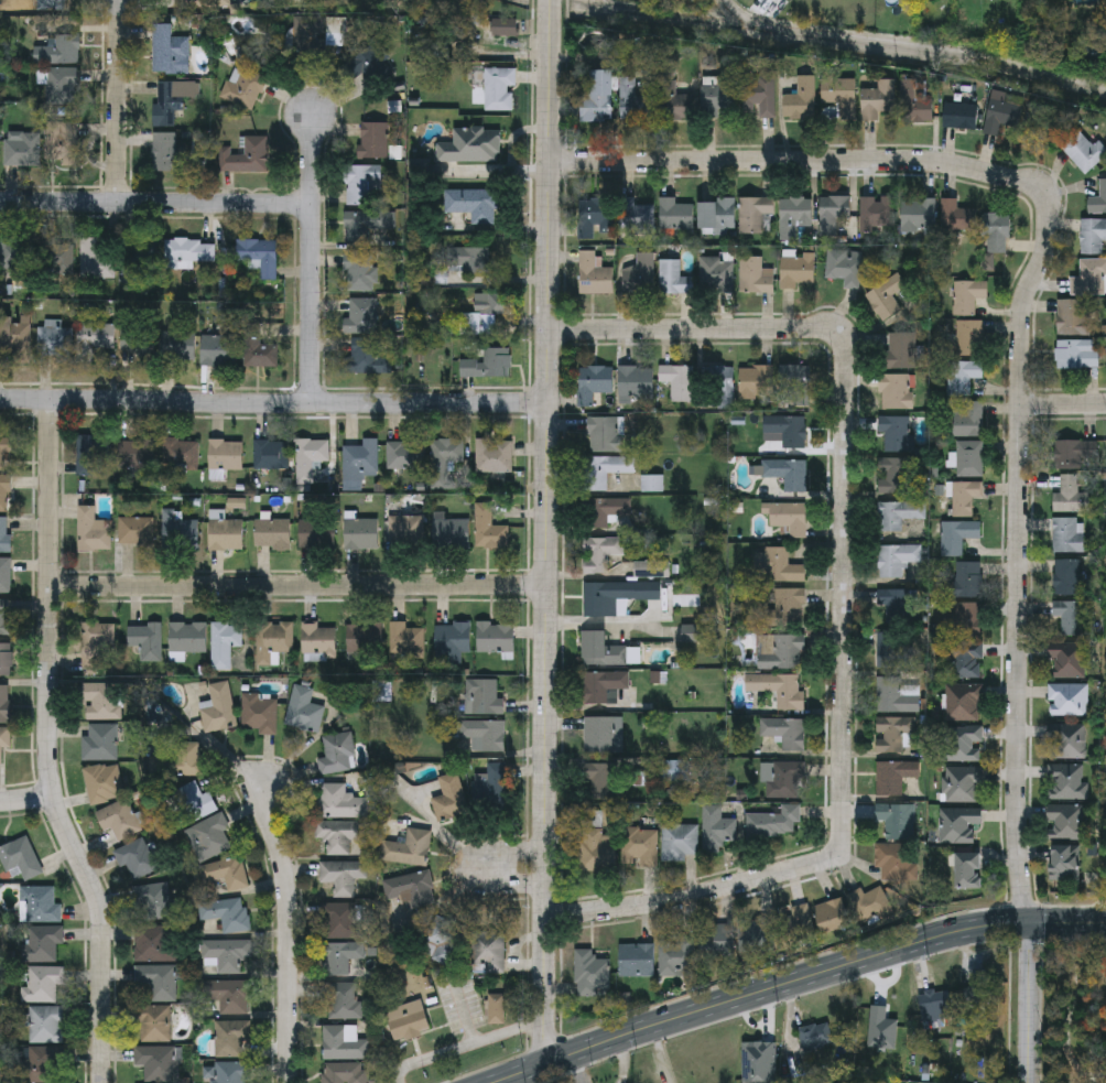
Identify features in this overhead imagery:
building: (198, 4)
building: (52, 6)
building: (506, 29)
building: (336, 34)
building: (304, 35)
building: (58, 52)
building: (170, 53)
building: (372, 65)
building: (59, 87)
building: (242, 89)
building: (500, 90)
building: (717, 96)
building: (842, 96)
building: (597, 98)
building: (761, 98)
road: (118, 100)
building: (801, 101)
building: (879, 101)
building: (171, 104)
building: (635, 104)
building: (675, 105)
building: (914, 106)
building: (1002, 115)
building: (962, 117)
building: (375, 142)
building: (62, 144)
building: (471, 148)
building: (22, 150)
building: (1086, 154)
building: (167, 155)
building: (246, 159)
road: (784, 162)
building: (362, 185)
road: (155, 202)
building: (1098, 202)
building: (474, 206)
building: (833, 214)
building: (876, 215)
building: (757, 216)
building: (919, 216)
building: (676, 217)
building: (794, 217)
building: (596, 218)
building: (636, 218)
building: (718, 218)
building: (957, 218)
building: (366, 227)
building: (996, 235)
building: (1093, 238)
building: (187, 254)
building: (259, 258)
building: (18, 259)
building: (55, 259)
road: (310, 260)
building: (95, 262)
building: (468, 262)
building: (845, 269)
building: (798, 272)
building: (360, 273)
building: (595, 275)
building: (717, 275)
building: (640, 277)
building: (756, 278)
building: (674, 280)
building: (1089, 280)
building: (968, 297)
building: (887, 299)
building: (484, 315)
building: (361, 317)
building: (1074, 320)
building: (14, 339)
building: (971, 339)
building: (94, 340)
building: (138, 342)
building: (55, 343)
building: (178, 348)
building: (218, 351)
building: (902, 351)
building: (262, 354)
building: (1075, 357)
building: (367, 360)
building: (488, 365)
building: (963, 378)
building: (677, 382)
building: (757, 383)
building: (594, 385)
building: (637, 385)
building: (718, 387)
building: (795, 388)
building: (899, 393)
road: (273, 404)
road: (1063, 405)
building: (968, 421)
building: (788, 431)
building: (605, 436)
building: (897, 436)
road: (845, 445)
building: (4, 451)
building: (91, 453)
building: (137, 454)
building: (1075, 455)
building: (182, 456)
building: (226, 456)
building: (271, 456)
building: (406, 457)
building: (494, 457)
building: (310, 461)
building: (444, 461)
building: (971, 461)
building: (361, 462)
building: (607, 472)
building: (784, 474)
building: (893, 477)
building: (6, 495)
building: (1071, 497)
building: (966, 498)
building: (606, 513)
building: (899, 516)
building: (790, 519)
building: (406, 530)
building: (489, 530)
road: (547, 530)
building: (94, 533)
building: (137, 533)
building: (180, 533)
building: (226, 534)
building: (273, 534)
building: (451, 534)
building: (317, 535)
building: (361, 535)
building: (6, 537)
building: (961, 537)
building: (1069, 537)
road: (1019, 543)
building: (600, 555)
building: (897, 560)
building: (778, 567)
building: (651, 571)
building: (6, 577)
building: (1069, 580)
building: (968, 582)
road: (299, 586)
building: (615, 596)
building: (899, 608)
building: (788, 609)
building: (1072, 618)
building: (6, 619)
building: (968, 622)
building: (496, 639)
building: (406, 640)
building: (453, 640)
building: (273, 641)
building: (147, 642)
building: (364, 642)
building: (319, 643)
building: (95, 645)
building: (225, 646)
building: (780, 653)
building: (893, 653)
building: (7, 661)
building: (966, 662)
building: (1069, 665)
building: (605, 689)
building: (780, 691)
building: (896, 697)
building: (482, 700)
building: (1069, 702)
building: (104, 703)
building: (964, 704)
building: (4, 705)
building: (219, 711)
building: (304, 712)
building: (260, 716)
building: (785, 734)
building: (894, 735)
building: (485, 736)
building: (604, 737)
building: (4, 740)
building: (1067, 743)
building: (100, 744)
building: (965, 746)
road: (48, 747)
building: (337, 756)
building: (186, 760)
building: (674, 772)
building: (894, 778)
building: (783, 781)
building: (601, 782)
building: (104, 784)
building: (1067, 784)
building: (496, 786)
building: (963, 787)
road: (28, 798)
building: (451, 800)
building: (195, 803)
building: (341, 803)
building: (118, 821)
building: (897, 822)
building: (773, 824)
building: (1067, 824)
building: (959, 826)
building: (716, 831)
building: (340, 836)
building: (209, 838)
building: (680, 843)
building: (596, 845)
building: (641, 848)
building: (409, 849)
building: (20, 858)
building: (137, 860)
building: (897, 863)
building: (1065, 864)
road: (512, 868)
building: (968, 870)
building: (226, 874)
building: (343, 877)
building: (411, 890)
road: (701, 895)
building: (154, 902)
building: (872, 905)
building: (40, 906)
building: (227, 914)
building: (834, 917)
building: (340, 922)
building: (798, 931)
road: (288, 934)
building: (446, 939)
building: (756, 939)
building: (725, 942)
building: (153, 944)
building: (42, 945)
building: (488, 953)
building: (226, 954)
building: (339, 957)
building: (677, 959)
building: (636, 963)
building: (589, 975)
road: (792, 979)
building: (158, 982)
building: (43, 984)
building: (979, 995)
building: (229, 997)
building: (933, 1000)
road: (1031, 1001)
building: (344, 1003)
building: (497, 1007)
road: (1070, 1010)
building: (408, 1022)
building: (155, 1025)
building: (46, 1026)
building: (815, 1035)
building: (230, 1039)
road: (474, 1043)
building: (344, 1044)
building: (42, 1065)
building: (156, 1065)
building: (231, 1073)
building: (345, 1073)
road: (399, 1076)

